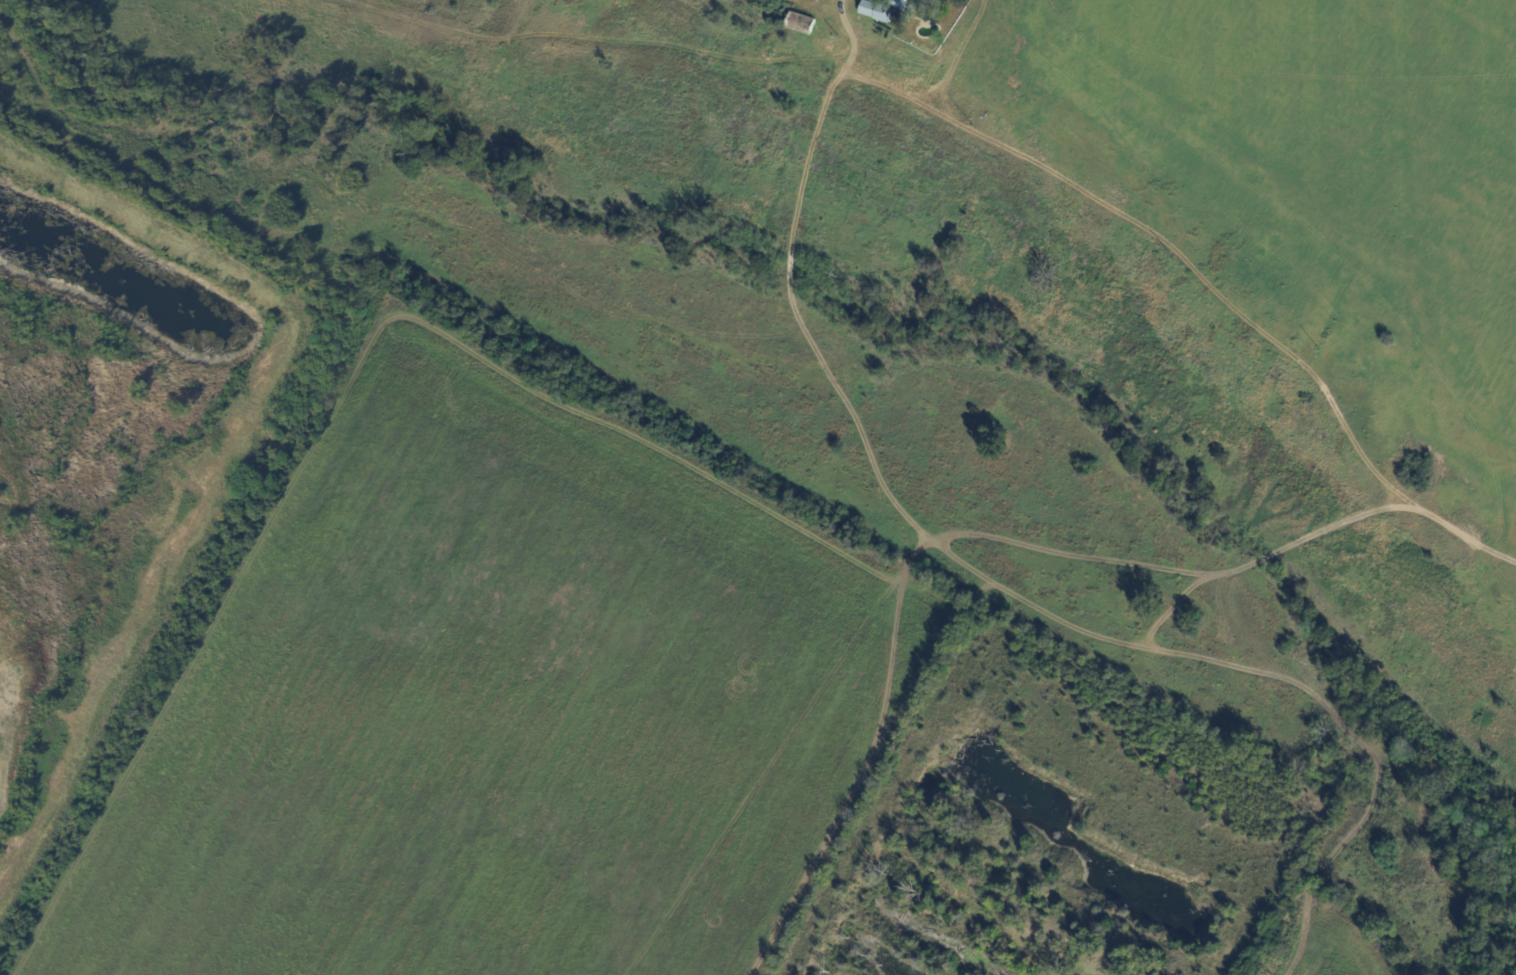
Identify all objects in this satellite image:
building: (920, 5)
building: (878, 11)
crop: (994, 22)
building: (802, 24)
road: (850, 38)
crop: (1329, 166)

